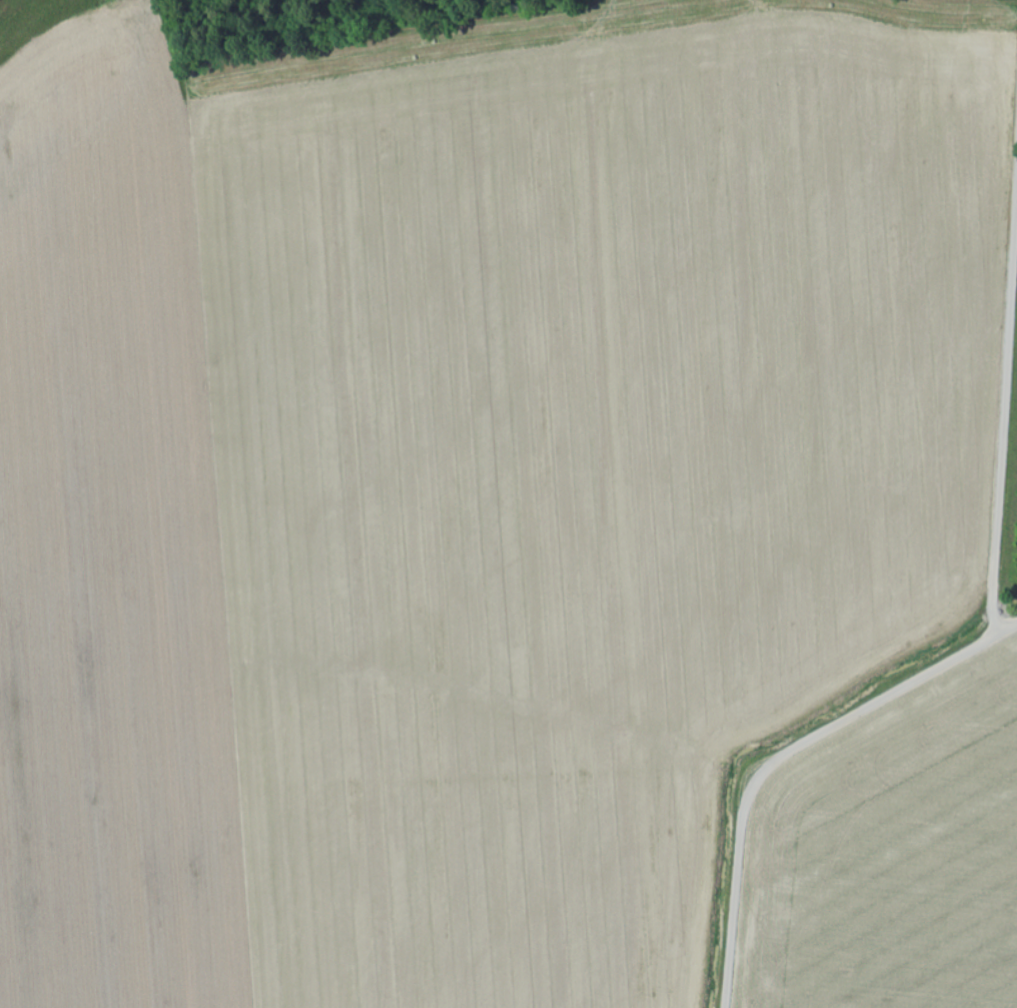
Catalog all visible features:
road: (1004, 407)
road: (784, 755)

